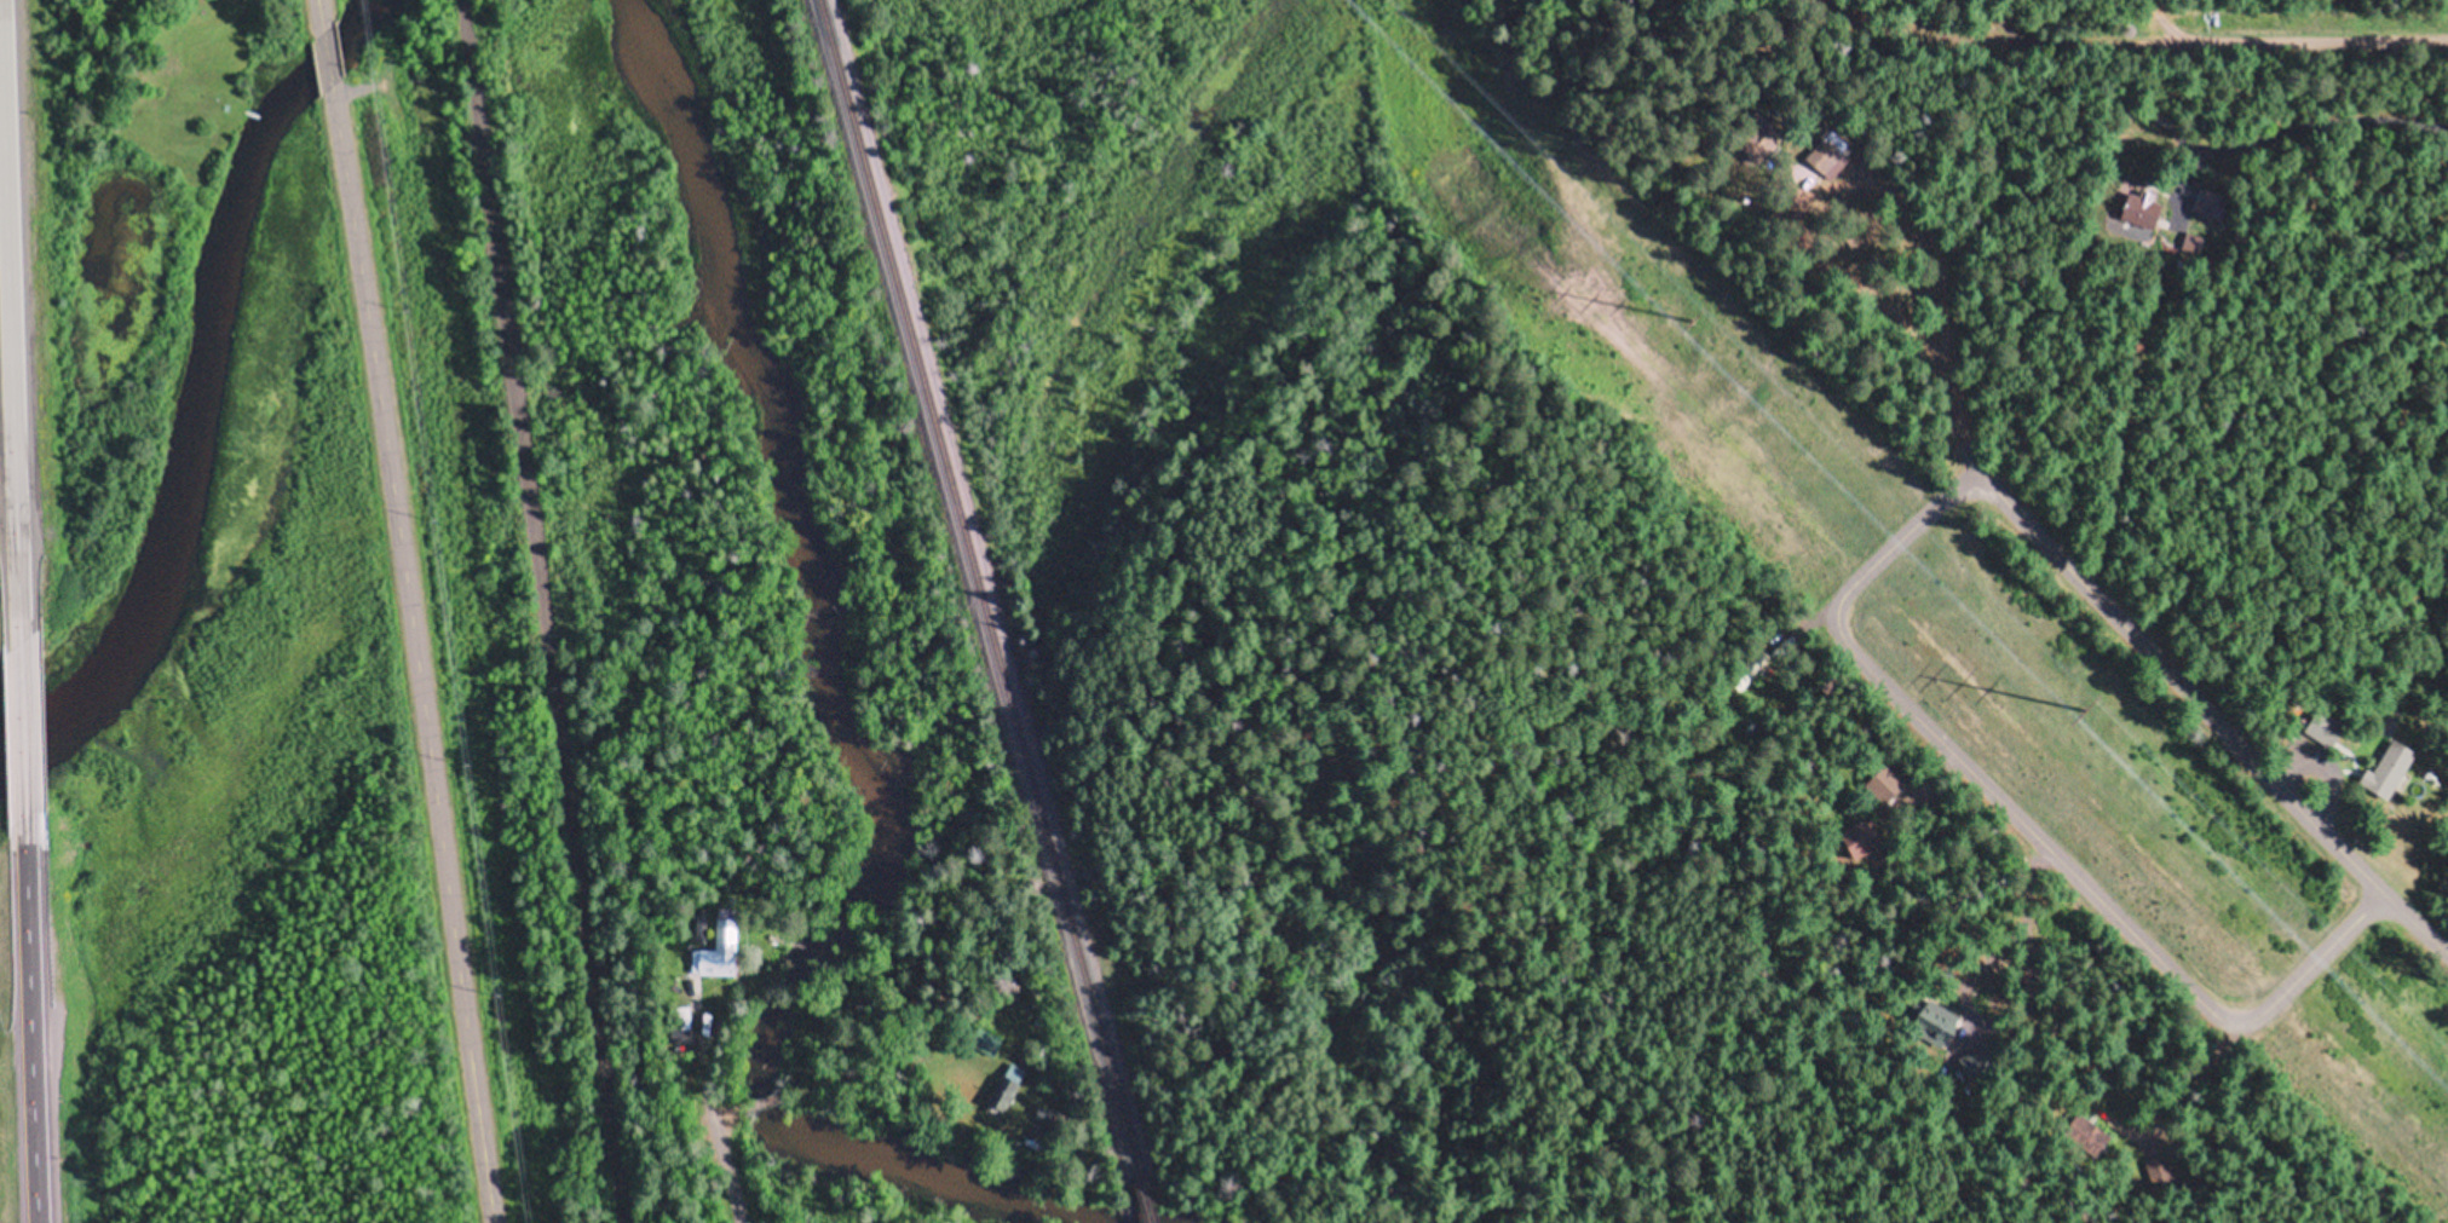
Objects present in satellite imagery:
road: (323, 15)
road: (2233, 46)
road: (332, 56)
road: (2333, 126)
building: (1764, 142)
building: (1827, 156)
building: (2143, 212)
power tower: (1688, 322)
road: (10, 330)
river: (236, 399)
railway: (975, 589)
park: (507, 592)
road: (2101, 592)
road: (543, 611)
road: (413, 653)
river: (863, 690)
power tower: (2084, 711)
road: (23, 731)
building: (2385, 773)
road: (2028, 824)
building: (1856, 842)
building: (716, 950)
road: (30, 1019)
building: (987, 1038)
building: (1983, 1054)
building: (1006, 1084)
building: (2093, 1138)
railway: (1147, 1199)

